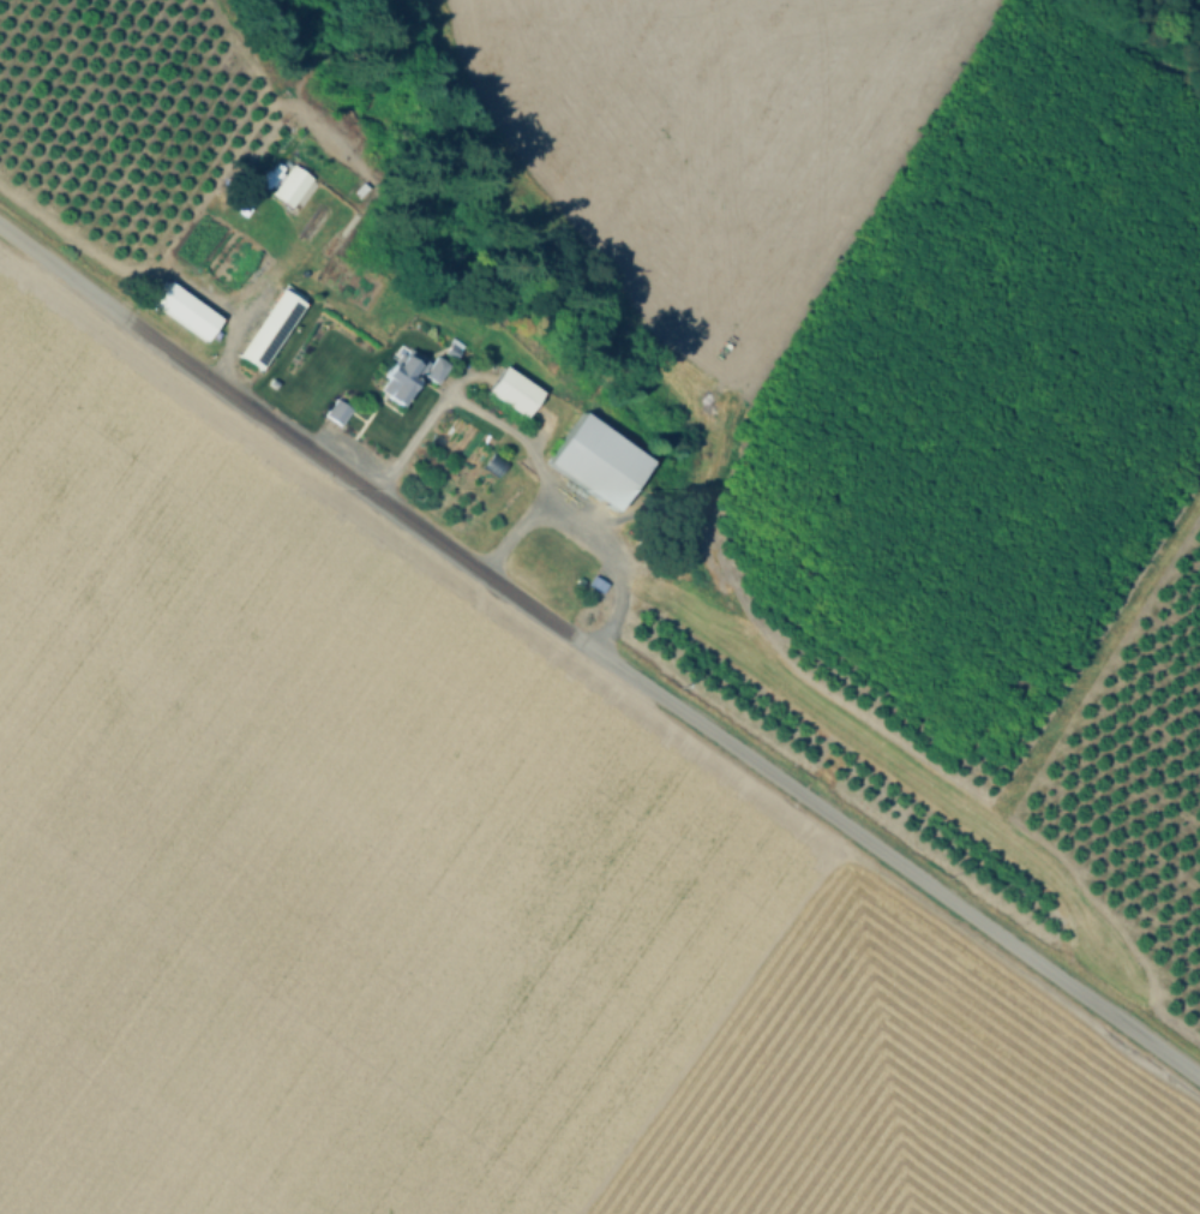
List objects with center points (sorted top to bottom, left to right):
building: (289, 187)
building: (224, 256)
road: (209, 292)
building: (184, 312)
road: (239, 324)
building: (270, 327)
building: (403, 375)
building: (511, 393)
building: (336, 413)
road: (497, 425)
building: (594, 464)
road: (613, 556)
road: (598, 656)
crop: (443, 886)

